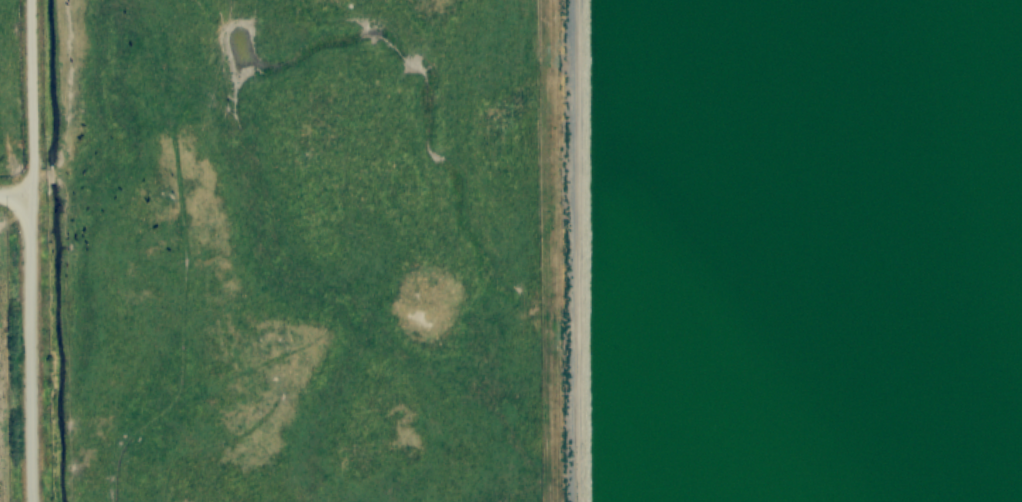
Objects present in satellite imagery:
road: (29, 96)
road: (13, 193)
wastewater plant: (782, 250)
road: (28, 347)

